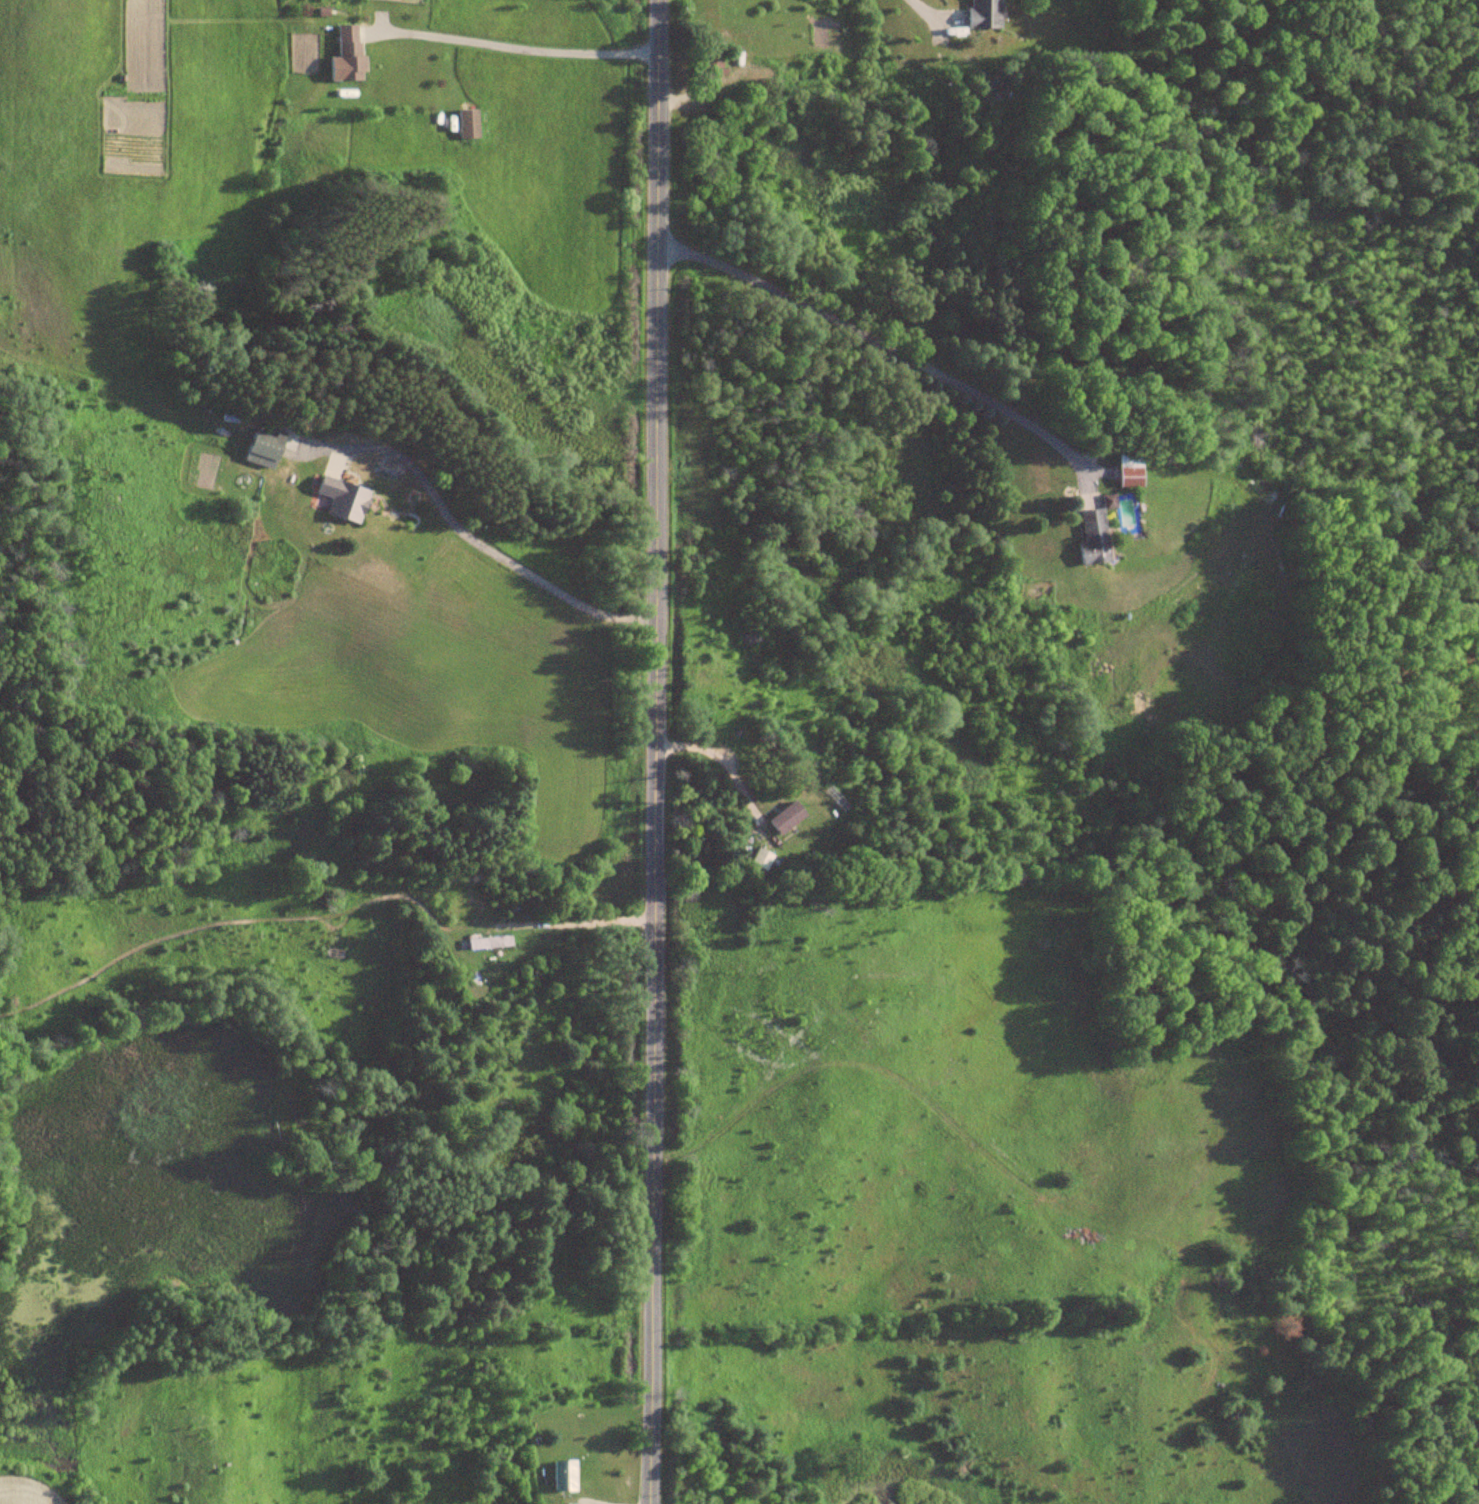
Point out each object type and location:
building: (986, 13)
building: (352, 52)
building: (713, 65)
building: (470, 123)
road: (893, 350)
building: (265, 449)
building: (1132, 470)
building: (344, 498)
building: (1097, 532)
road: (654, 752)
building: (788, 818)
building: (762, 860)
building: (491, 942)
building: (565, 1476)

